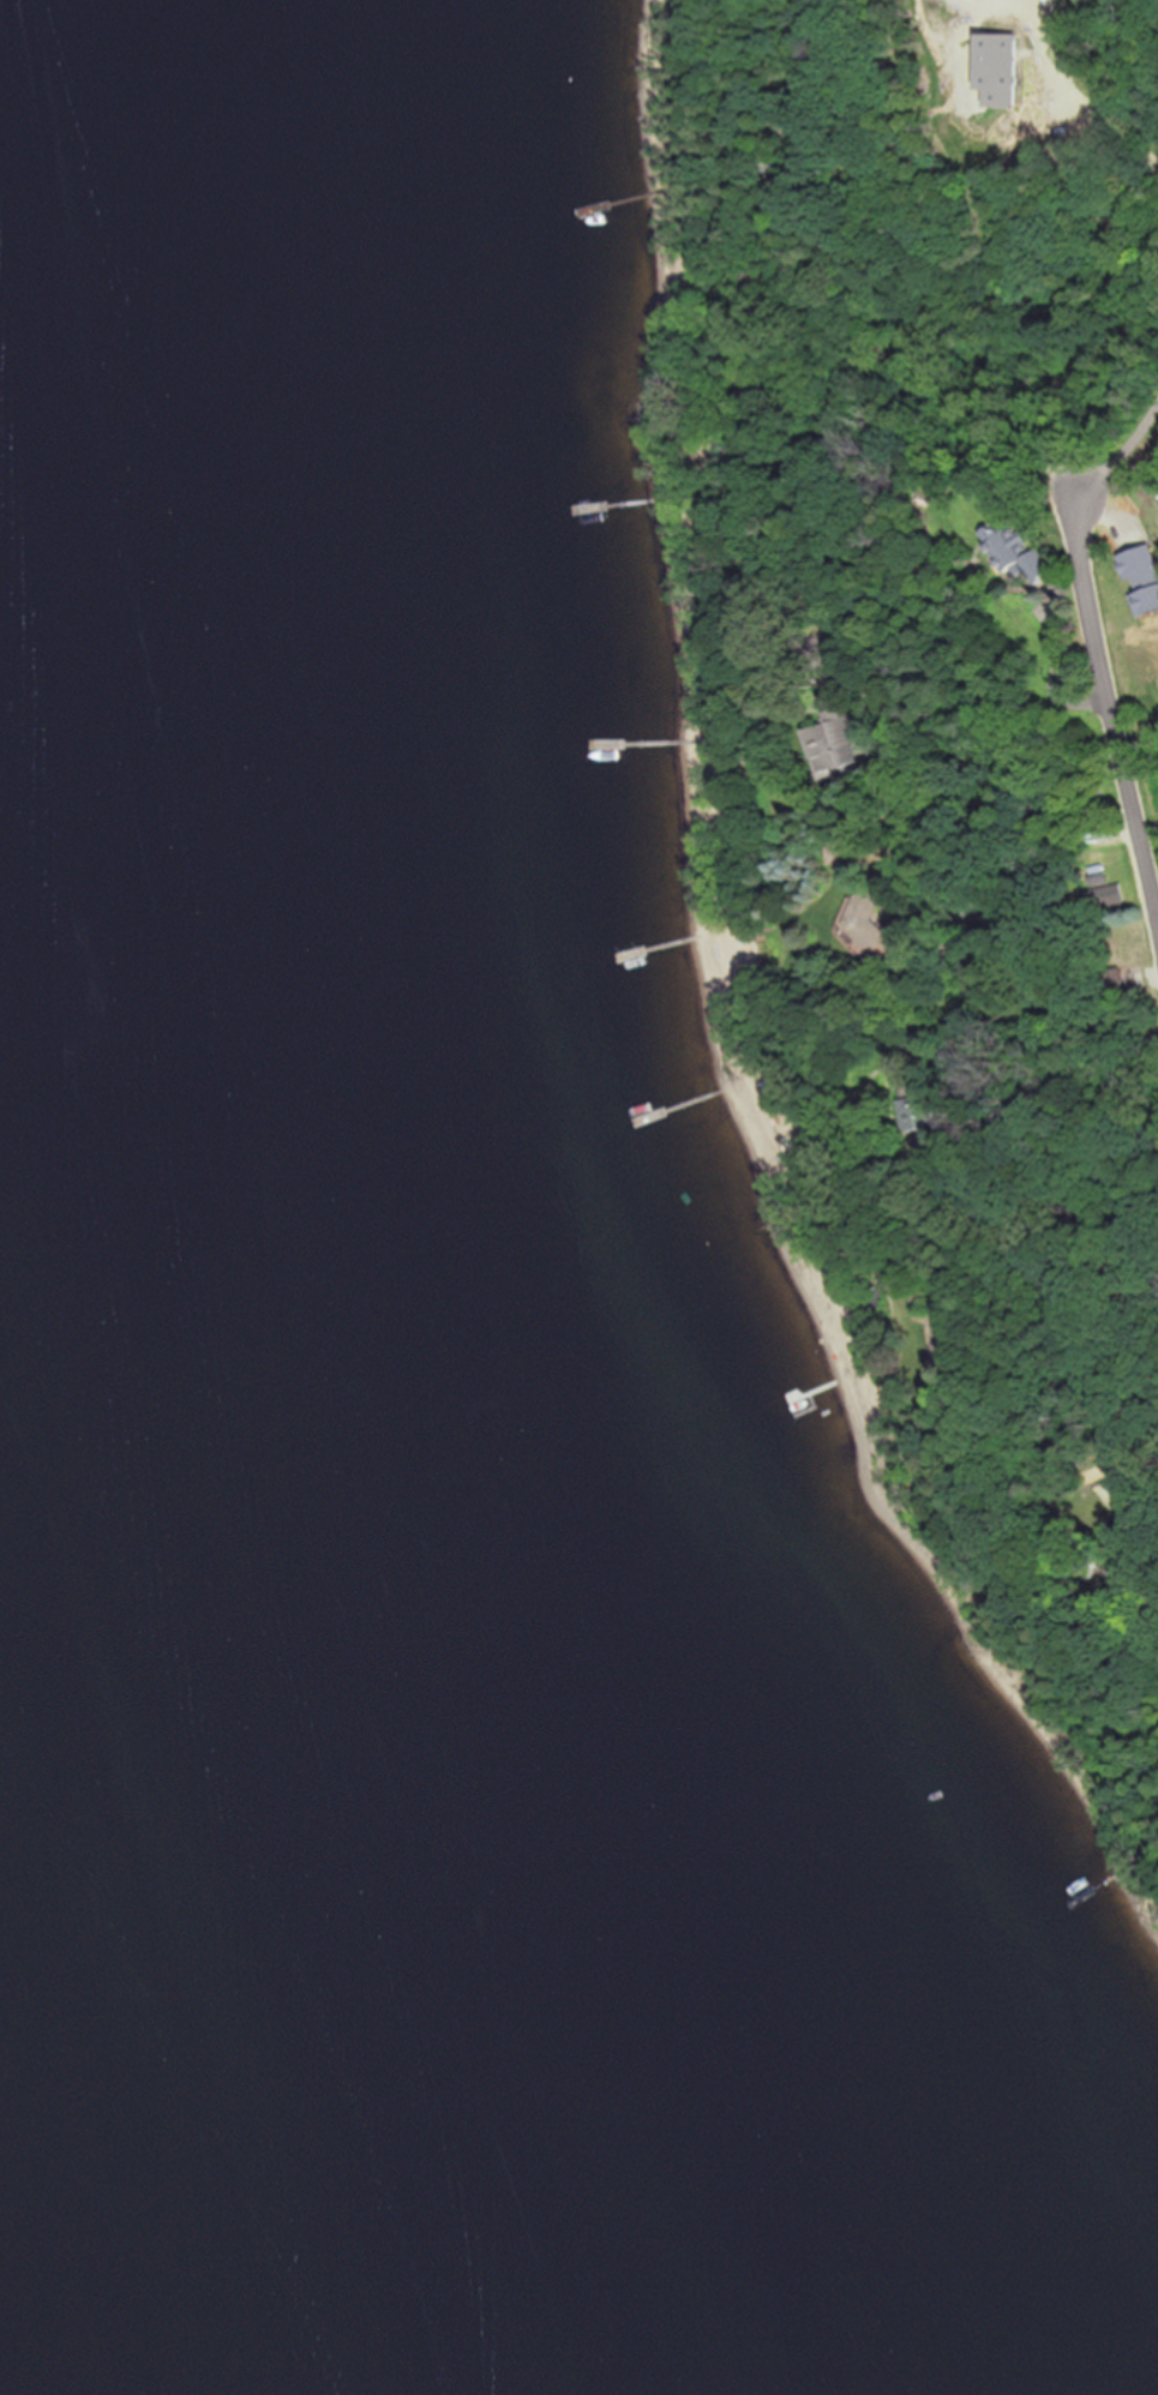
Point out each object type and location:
road: (1134, 62)
road: (1124, 446)
road: (1109, 701)
building: (839, 734)
road: (973, 883)
building: (1112, 896)
building: (865, 922)
road: (935, 967)
building: (920, 1112)
road: (1128, 1544)
river: (128, 1841)

